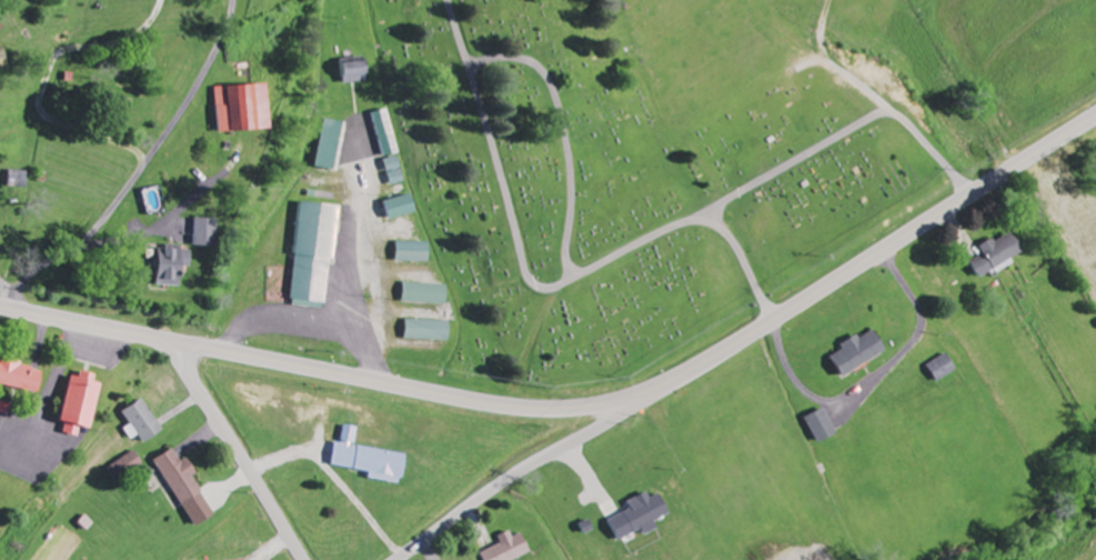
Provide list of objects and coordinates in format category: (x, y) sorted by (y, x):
building: (356, 72)
building: (245, 109)
building: (386, 134)
building: (332, 146)
building: (395, 172)
building: (21, 179)
park: (624, 186)
building: (401, 208)
building: (205, 233)
building: (414, 252)
building: (318, 254)
building: (999, 256)
building: (173, 267)
road: (540, 287)
building: (426, 294)
road: (90, 324)
building: (431, 331)
building: (862, 353)
building: (946, 369)
building: (22, 377)
road: (671, 380)
building: (83, 406)
building: (144, 423)
building: (825, 427)
road: (238, 452)
building: (371, 460)
road: (509, 479)
building: (188, 489)
building: (644, 517)
building: (511, 549)

